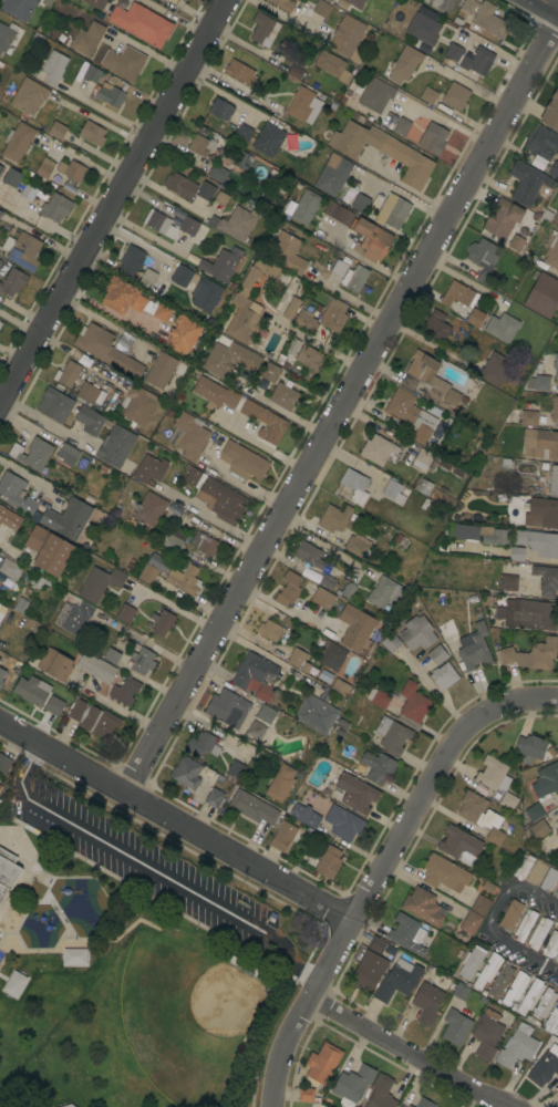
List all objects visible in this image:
building: (180, 0)
building: (296, 0)
building: (329, 1)
road: (552, 2)
building: (95, 3)
building: (351, 3)
building: (282, 4)
building: (441, 4)
building: (18, 8)
building: (321, 9)
building: (484, 18)
building: (141, 23)
building: (424, 27)
building: (263, 30)
building: (347, 35)
building: (6, 39)
building: (87, 39)
building: (482, 59)
building: (124, 63)
building: (404, 64)
building: (332, 65)
building: (52, 69)
building: (294, 71)
building: (240, 73)
building: (92, 74)
building: (110, 94)
building: (29, 95)
building: (375, 95)
building: (428, 95)
building: (455, 96)
building: (303, 105)
building: (220, 110)
building: (551, 112)
road: (100, 122)
building: (402, 126)
building: (56, 131)
building: (92, 133)
building: (242, 133)
building: (432, 138)
building: (268, 139)
building: (17, 142)
building: (541, 143)
building: (200, 145)
building: (382, 151)
road: (89, 164)
building: (251, 164)
building: (0, 168)
building: (44, 168)
building: (70, 169)
building: (554, 169)
building: (332, 175)
building: (225, 177)
building: (12, 178)
building: (528, 184)
building: (69, 186)
building: (179, 186)
road: (405, 186)
building: (205, 192)
building: (28, 193)
road: (167, 195)
building: (349, 195)
road: (115, 200)
building: (218, 201)
building: (360, 203)
building: (55, 207)
building: (304, 207)
building: (393, 211)
building: (1, 213)
building: (338, 214)
building: (502, 218)
building: (556, 218)
building: (159, 224)
building: (237, 224)
building: (188, 226)
building: (370, 240)
building: (516, 244)
building: (22, 250)
building: (551, 251)
building: (287, 254)
building: (483, 259)
building: (0, 260)
building: (0, 261)
building: (131, 261)
building: (223, 263)
building: (339, 268)
building: (180, 276)
building: (146, 278)
building: (354, 279)
building: (12, 282)
building: (205, 294)
building: (456, 294)
building: (542, 294)
building: (122, 296)
building: (248, 304)
building: (290, 308)
building: (162, 312)
building: (333, 315)
building: (475, 318)
building: (0, 321)
road: (101, 321)
building: (304, 321)
building: (0, 323)
building: (436, 325)
building: (502, 327)
building: (182, 334)
building: (292, 346)
building: (105, 350)
building: (309, 358)
building: (229, 360)
building: (556, 365)
building: (495, 369)
building: (159, 370)
building: (269, 372)
building: (66, 374)
building: (427, 377)
building: (538, 383)
building: (89, 394)
building: (283, 396)
road: (1, 397)
building: (54, 405)
building: (136, 406)
building: (242, 408)
road: (345, 408)
building: (554, 410)
building: (411, 415)
building: (528, 418)
road: (41, 420)
building: (89, 420)
building: (188, 436)
building: (540, 444)
building: (115, 446)
road: (266, 446)
building: (378, 449)
building: (31, 454)
building: (68, 454)
building: (423, 459)
building: (242, 462)
building: (149, 469)
building: (444, 469)
road: (28, 476)
building: (193, 476)
building: (554, 480)
road: (244, 486)
building: (354, 486)
building: (424, 487)
building: (393, 492)
building: (15, 494)
building: (221, 500)
building: (149, 508)
building: (545, 511)
building: (334, 518)
building: (68, 519)
road: (211, 520)
building: (8, 521)
building: (464, 532)
building: (493, 536)
building: (170, 540)
building: (538, 542)
building: (207, 546)
building: (358, 546)
building: (49, 550)
building: (308, 555)
building: (516, 555)
building: (10, 568)
building: (147, 573)
building: (1, 577)
building: (184, 580)
building: (546, 580)
building: (328, 582)
building: (99, 583)
building: (507, 583)
building: (288, 589)
building: (384, 592)
building: (322, 598)
building: (2, 611)
road: (178, 611)
building: (125, 613)
building: (527, 614)
building: (73, 617)
building: (162, 622)
building: (355, 628)
building: (269, 630)
building: (417, 633)
building: (391, 643)
building: (474, 648)
building: (436, 654)
building: (111, 655)
building: (331, 655)
building: (530, 655)
building: (298, 660)
building: (142, 661)
building: (54, 663)
building: (96, 668)
building: (443, 675)
building: (1, 676)
building: (255, 676)
building: (340, 687)
building: (31, 690)
building: (125, 691)
building: (378, 697)
building: (53, 705)
building: (413, 705)
building: (227, 708)
building: (266, 714)
building: (314, 714)
building: (93, 720)
building: (392, 736)
building: (200, 745)
building: (529, 748)
building: (4, 764)
building: (378, 767)
building: (235, 770)
building: (185, 772)
building: (493, 775)
building: (544, 783)
building: (280, 784)
building: (0, 787)
building: (355, 793)
building: (214, 797)
building: (508, 801)
building: (252, 807)
building: (477, 810)
building: (531, 814)
building: (304, 816)
road: (174, 819)
building: (342, 823)
building: (539, 829)
building: (557, 834)
building: (282, 836)
building: (494, 837)
road: (173, 842)
building: (459, 845)
road: (42, 856)
building: (328, 862)
road: (376, 866)
road: (149, 867)
parking lot: (151, 867)
building: (523, 868)
building: (7, 871)
building: (443, 872)
building: (536, 873)
road: (41, 876)
building: (549, 879)
road: (15, 891)
road: (139, 891)
road: (538, 892)
building: (556, 892)
road: (498, 902)
building: (480, 906)
building: (423, 907)
road: (23, 913)
building: (510, 915)
building: (471, 923)
building: (524, 924)
road: (1, 933)
building: (538, 933)
building: (407, 934)
building: (551, 943)
building: (376, 945)
road: (41, 948)
road: (524, 951)
park: (132, 956)
building: (557, 956)
building: (472, 962)
building: (368, 971)
building: (486, 971)
building: (397, 980)
building: (500, 980)
building: (515, 987)
building: (461, 991)
building: (530, 996)
building: (426, 1003)
building: (544, 1003)
park: (200, 1006)
road: (273, 1015)
building: (551, 1020)
building: (455, 1027)
building: (487, 1034)
building: (557, 1035)
building: (517, 1047)
road: (400, 1052)
building: (321, 1064)
building: (544, 1068)
road: (244, 1074)
building: (352, 1085)
building: (381, 1093)
building: (306, 1094)
building: (423, 1103)
building: (401, 1106)
building: (409, 1106)

